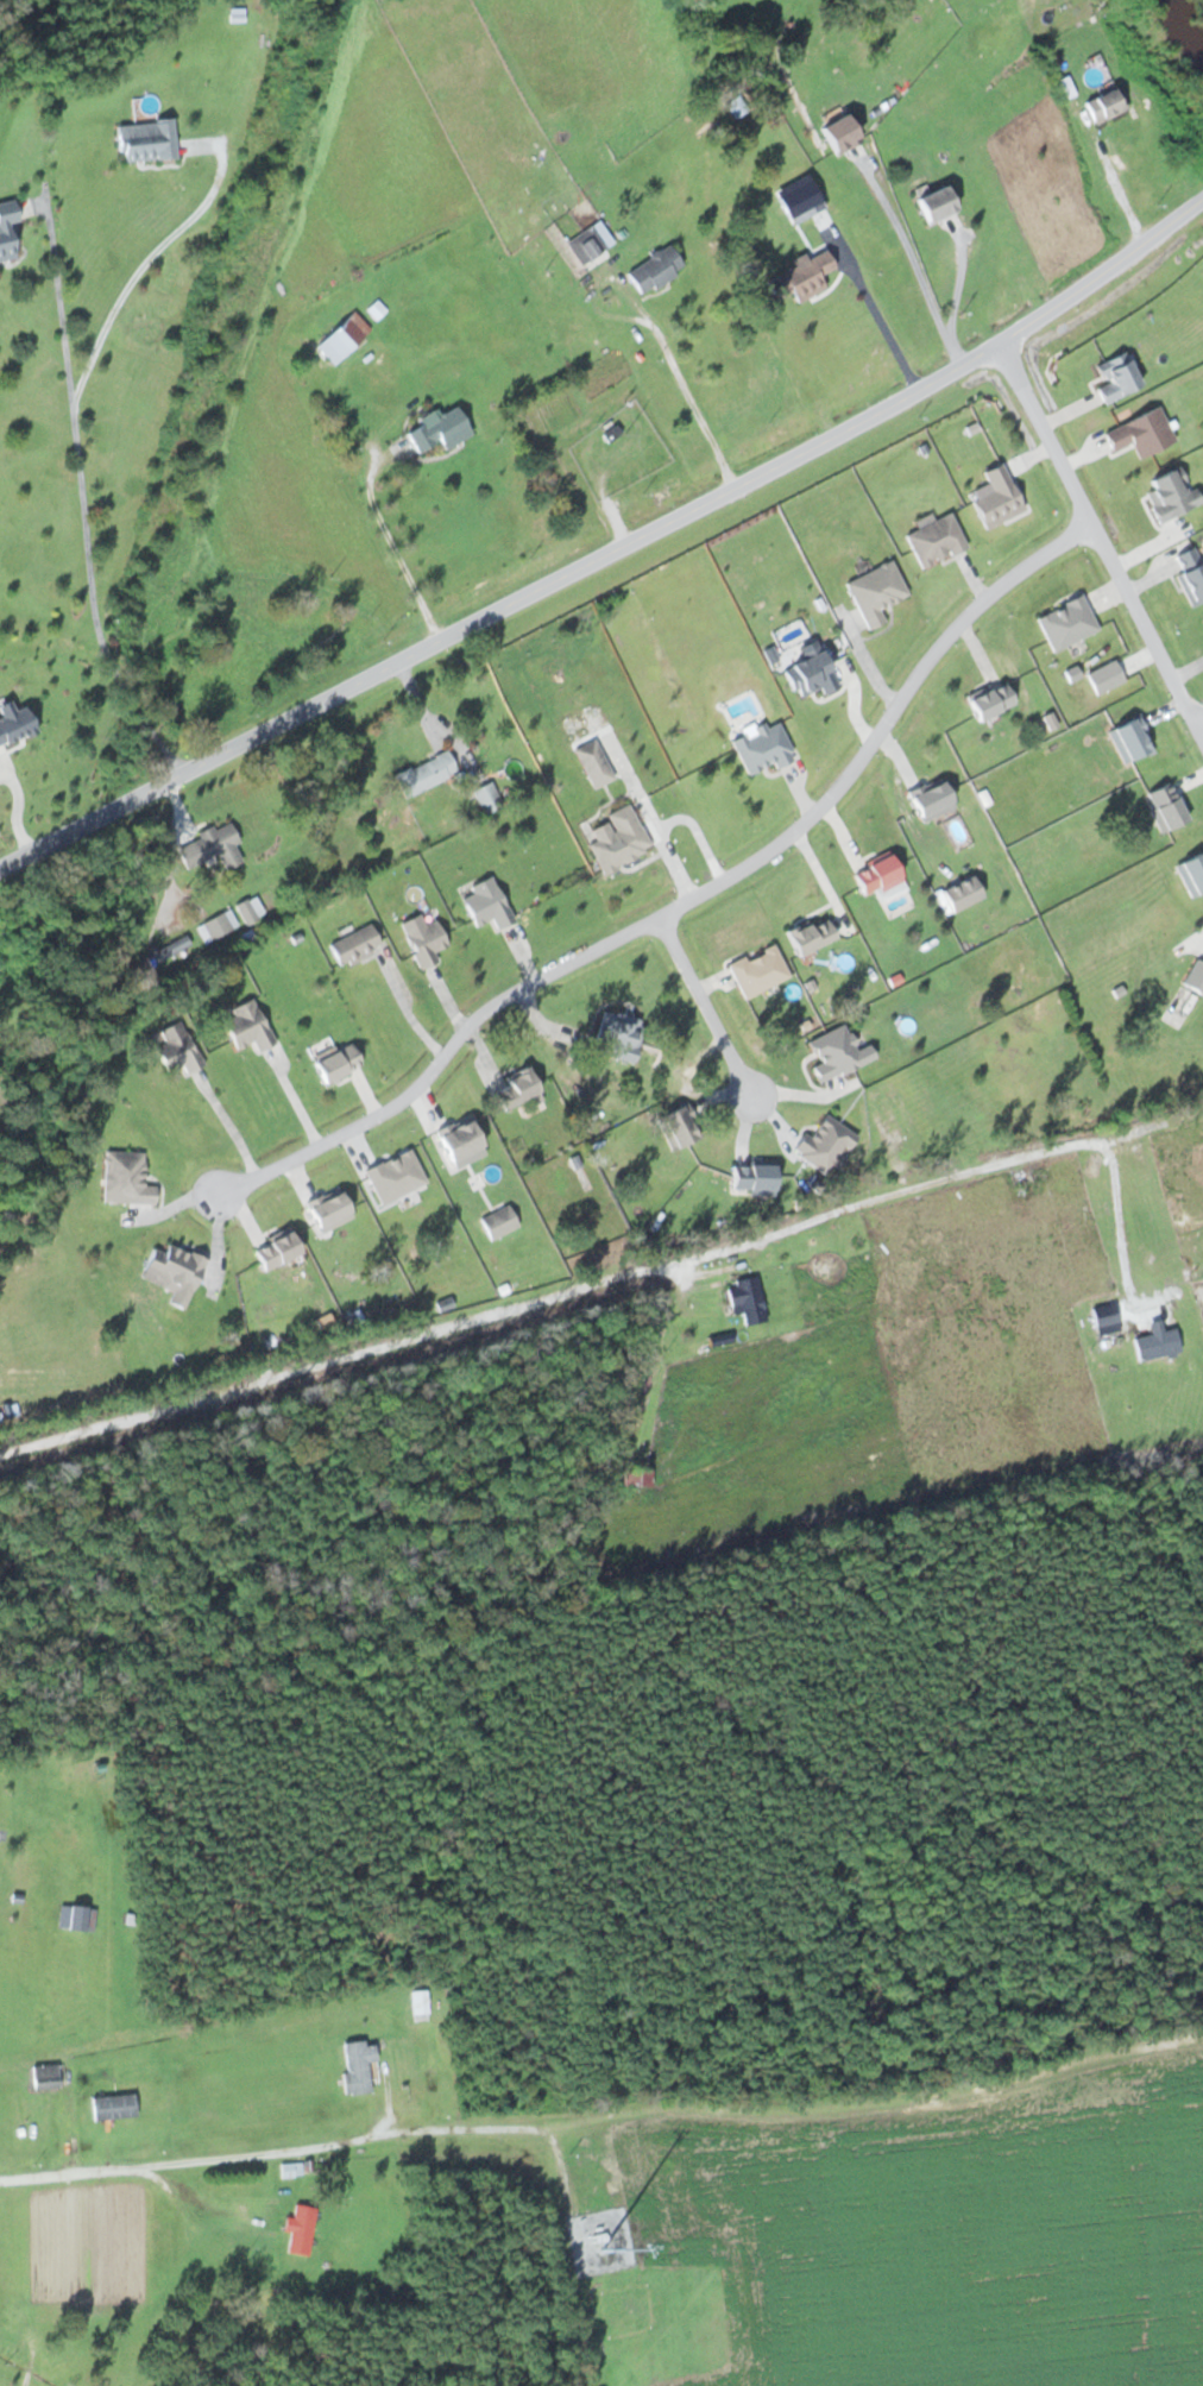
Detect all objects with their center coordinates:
river: (1186, 32)
building: (1104, 106)
building: (838, 133)
building: (145, 140)
building: (934, 203)
building: (7, 229)
building: (590, 241)
building: (654, 269)
building: (800, 278)
building: (342, 336)
building: (436, 429)
building: (996, 497)
building: (934, 540)
road: (1102, 540)
road: (615, 553)
building: (1190, 575)
building: (875, 592)
building: (1066, 622)
building: (818, 676)
building: (989, 699)
road: (1199, 720)
building: (1129, 738)
building: (762, 748)
building: (593, 763)
building: (423, 773)
building: (486, 797)
building: (931, 800)
building: (1164, 806)
building: (615, 838)
building: (1191, 873)
building: (875, 875)
road: (689, 900)
building: (485, 902)
building: (250, 908)
building: (216, 925)
building: (808, 934)
building: (422, 937)
building: (353, 945)
building: (168, 951)
building: (757, 970)
building: (1193, 977)
road: (710, 1008)
building: (245, 1026)
building: (616, 1037)
building: (174, 1049)
building: (837, 1052)
building: (334, 1060)
building: (514, 1090)
building: (674, 1127)
building: (456, 1140)
building: (824, 1144)
building: (393, 1176)
building: (125, 1178)
building: (751, 1178)
building: (327, 1211)
building: (498, 1222)
building: (273, 1248)
building: (171, 1272)
building: (747, 1299)
building: (1155, 1343)
building: (636, 1478)
building: (73, 1918)
building: (420, 2004)
building: (357, 2064)
building: (44, 2075)
building: (113, 2104)
road: (313, 2148)
building: (300, 2229)

